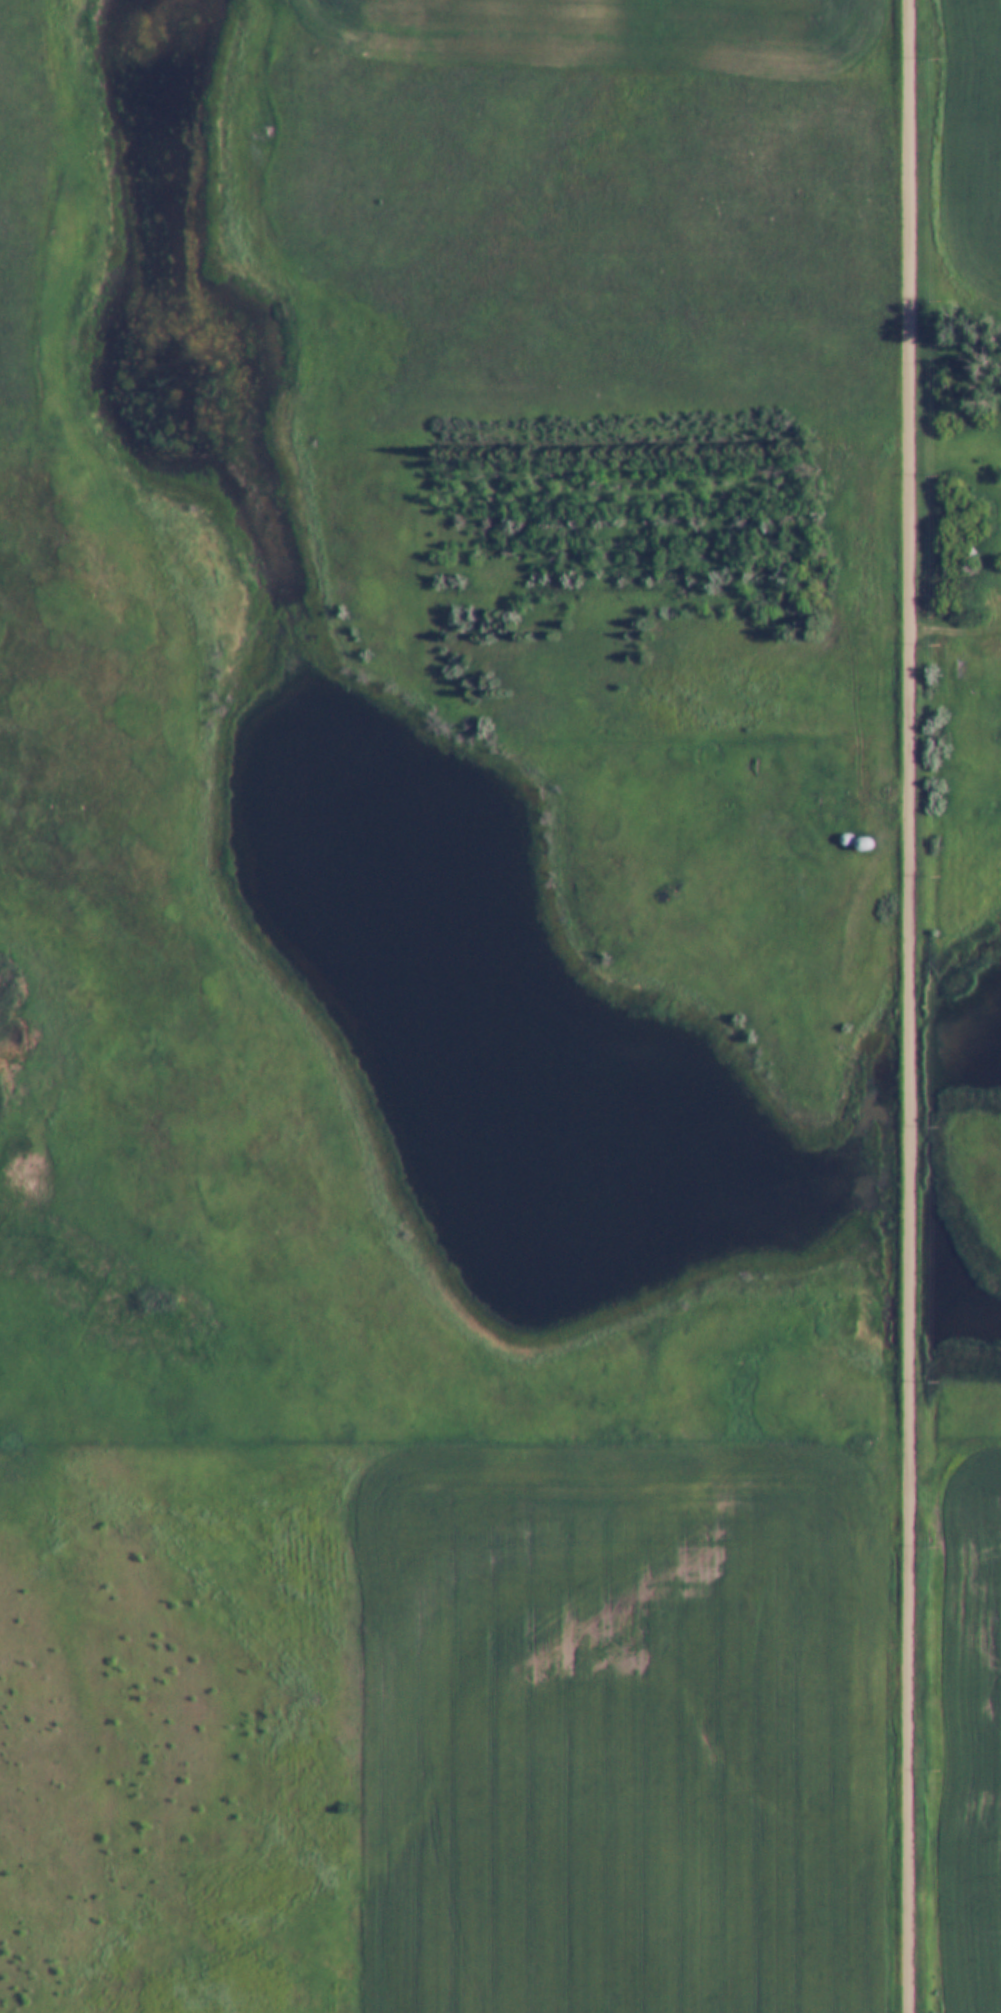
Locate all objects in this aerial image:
road: (955, 632)
road: (909, 1006)

